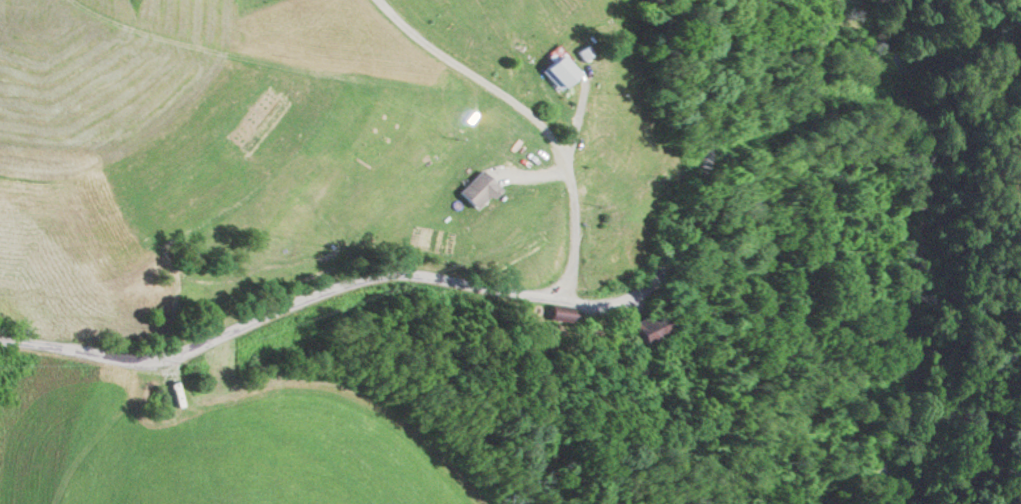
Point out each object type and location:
building: (556, 70)
road: (532, 120)
building: (476, 190)
road: (478, 290)
building: (557, 314)
building: (646, 331)

